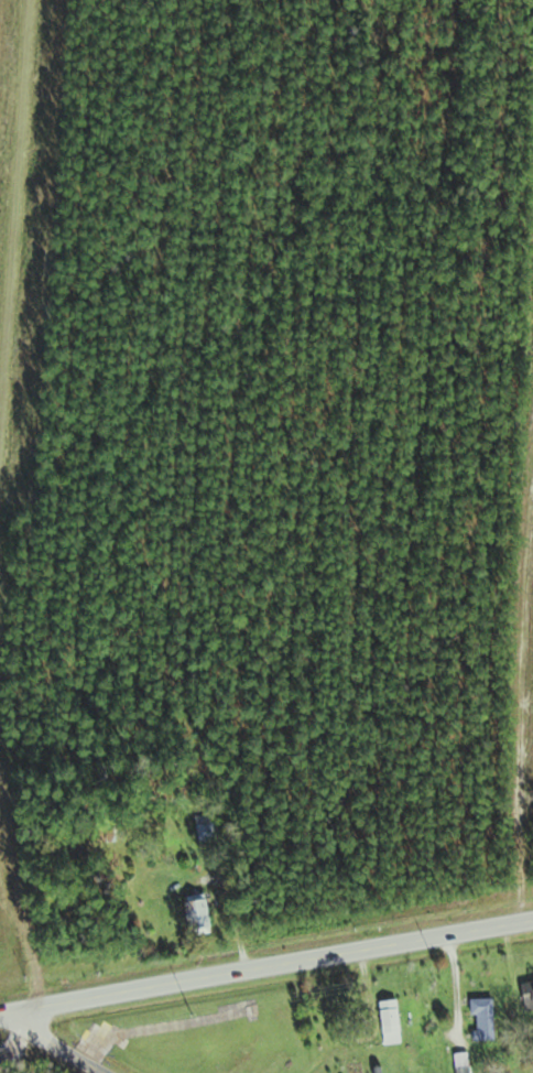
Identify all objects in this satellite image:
building: (203, 834)
building: (195, 917)
road: (270, 966)
building: (525, 996)
road: (3, 1012)
building: (482, 1020)
building: (389, 1023)
road: (56, 1042)
building: (461, 1063)

